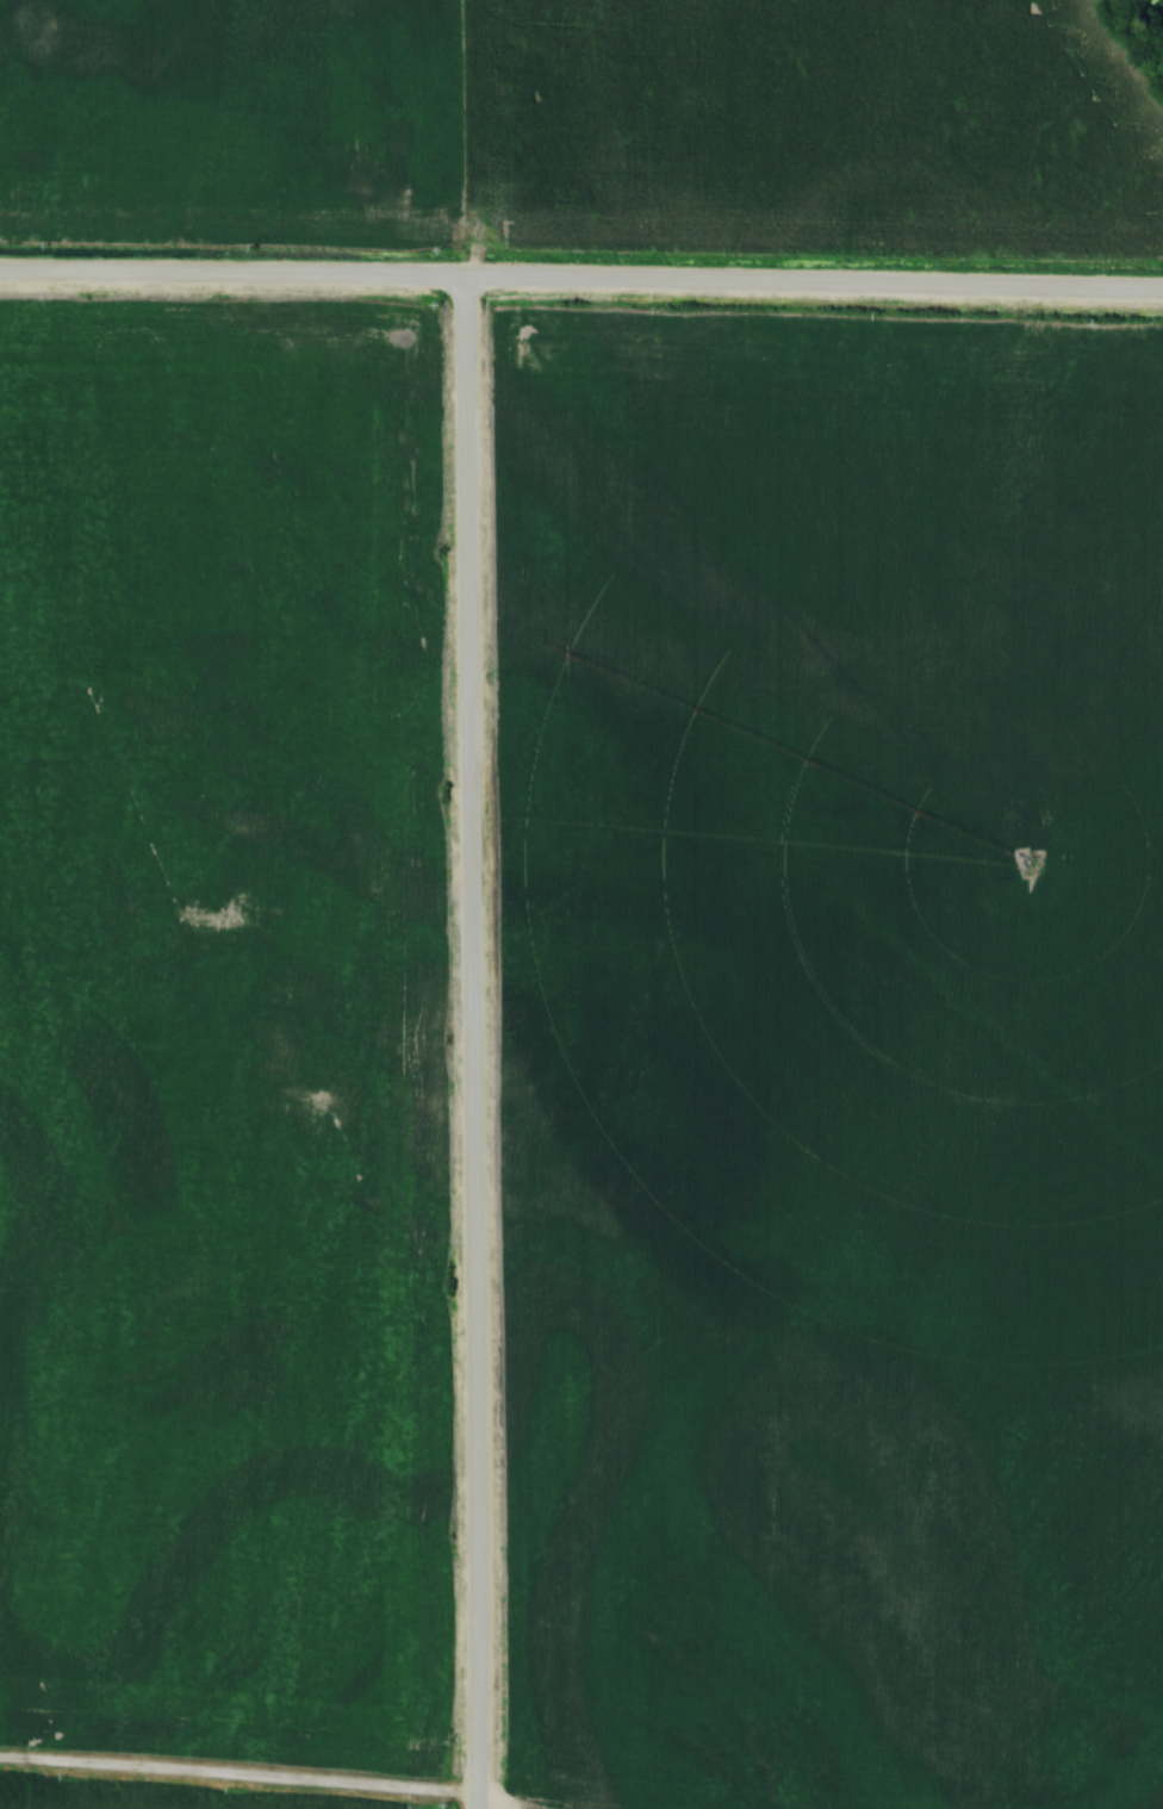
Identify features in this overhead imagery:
crop: (790, 124)
road: (583, 282)
road: (472, 1044)
road: (238, 1776)

